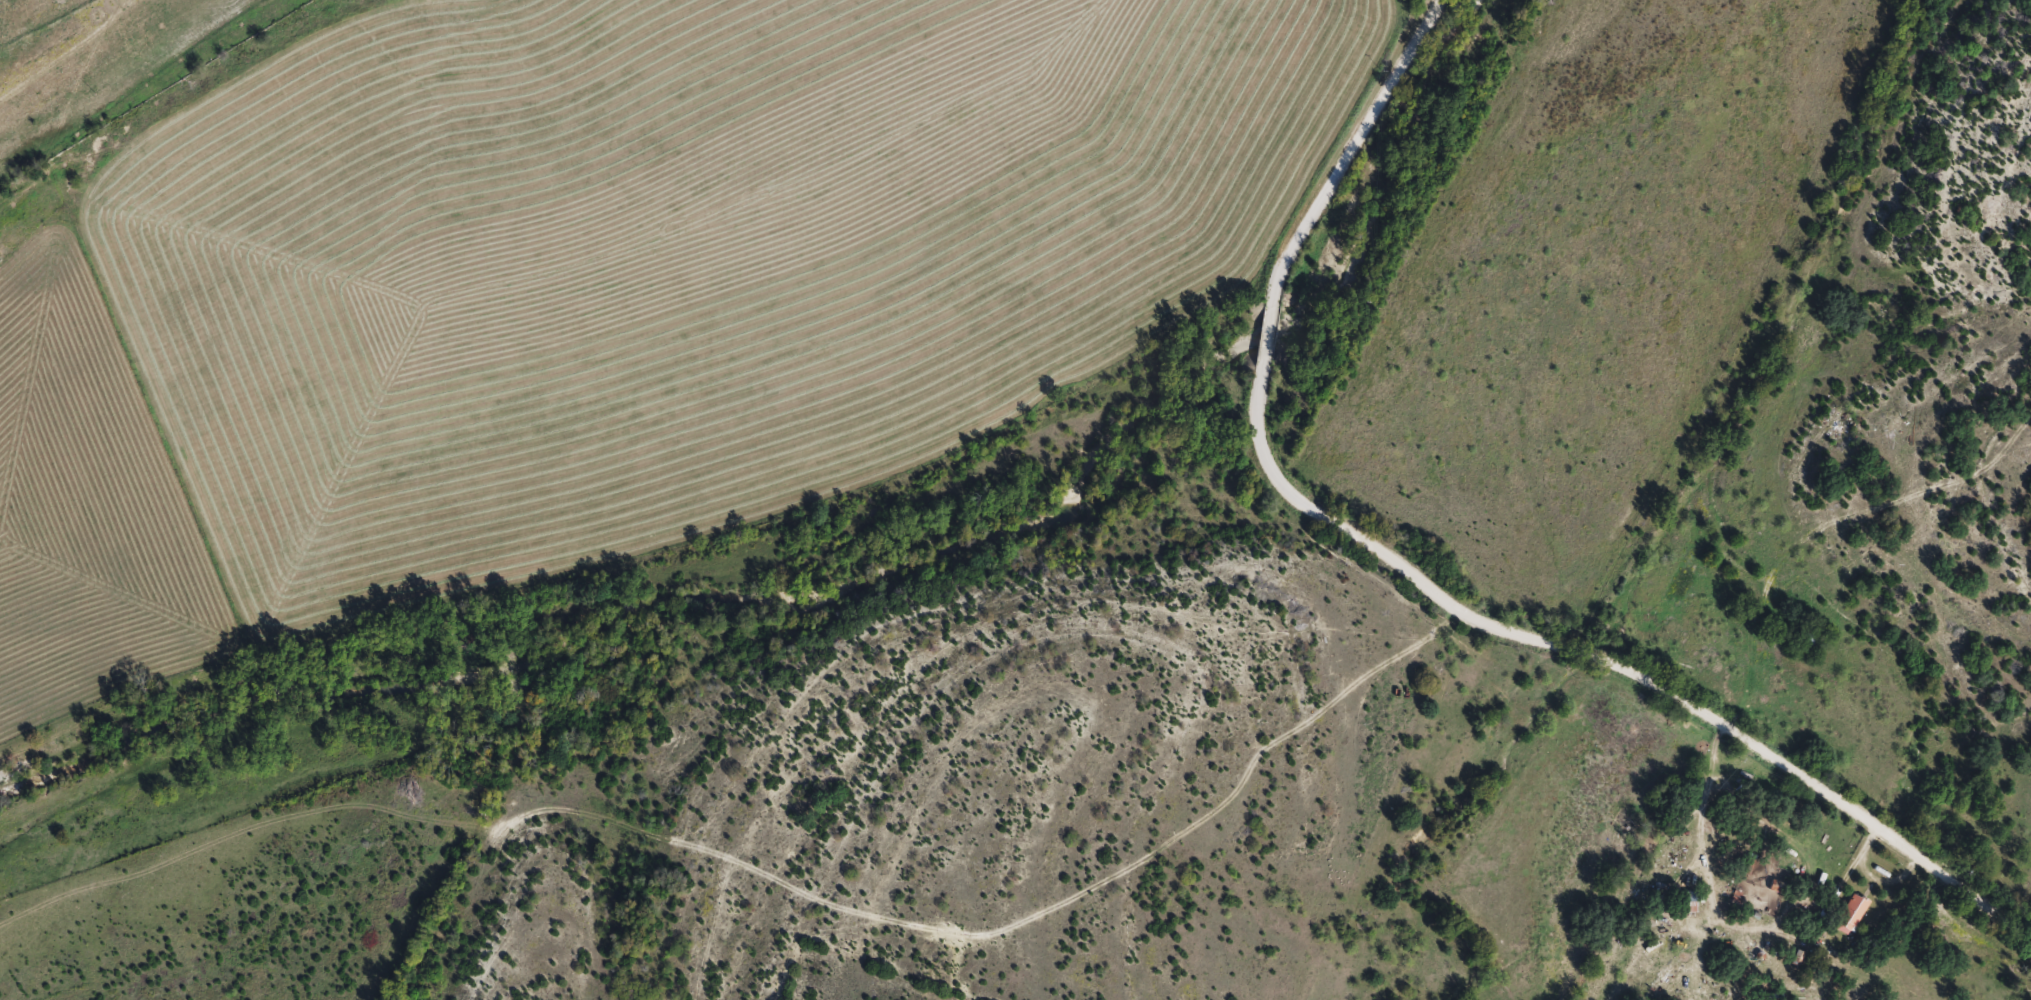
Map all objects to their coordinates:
road: (102, 64)
road: (1261, 340)
building: (1811, 638)
road: (1760, 759)
building: (1752, 866)
building: (1855, 915)
road: (980, 956)

